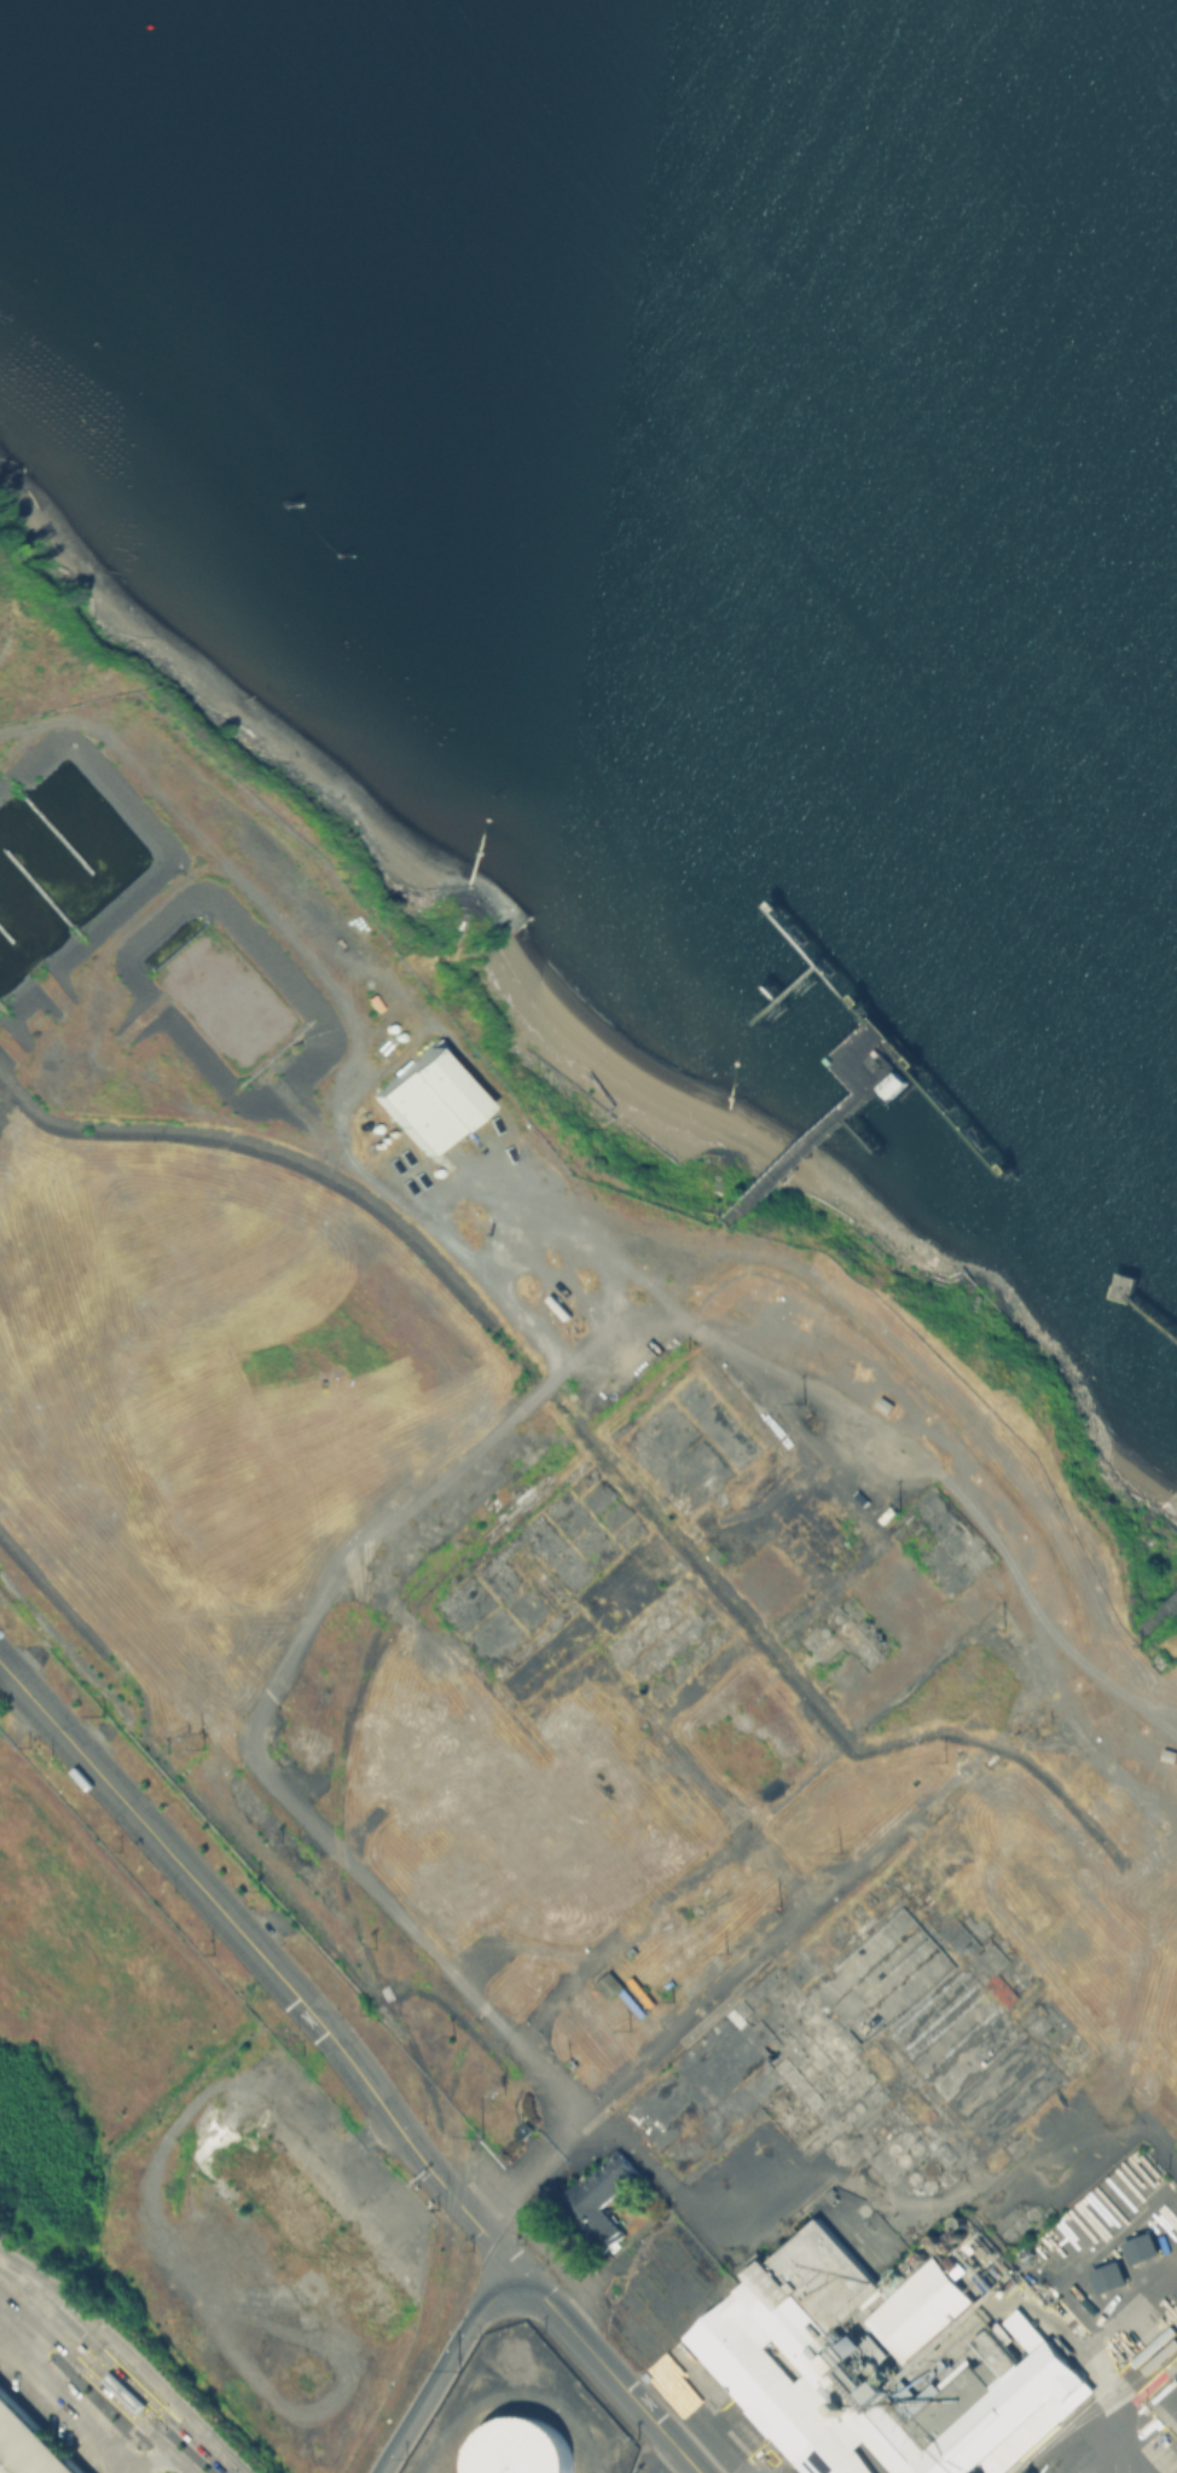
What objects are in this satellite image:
river: (940, 213)
pier: (874, 1059)
building: (424, 1097)
pier: (1137, 1298)
road: (485, 1431)
railway: (366, 1568)
railway: (350, 1569)
pier: (1155, 1614)
railway: (364, 1661)
railway: (342, 1736)
road: (608, 1944)
road: (261, 1953)
road: (720, 1980)
building: (607, 1983)
railway: (413, 2049)
road: (373, 2126)
railway: (546, 2164)
road: (509, 2177)
building: (599, 2197)
road: (686, 2210)
railway: (450, 2219)
building: (1140, 2247)
building: (966, 2275)
building: (1108, 2275)
road: (8, 2283)
road: (22, 2293)
road: (567, 2323)
building: (80, 2346)
road: (129, 2353)
building: (865, 2356)
road: (440, 2364)
traffic signals: (82, 2368)
road: (134, 2385)
road: (50, 2386)
building: (122, 2390)
road: (108, 2392)
railway: (1094, 2397)
railway: (1108, 2397)
road: (1072, 2398)
traffic signals: (161, 2409)
parking lot: (54, 2411)
road: (663, 2431)
road: (152, 2436)
road: (195, 2440)
building: (28, 2443)
road: (127, 2446)
building: (517, 2446)
storage tank: (517, 2446)
road: (150, 2460)
road: (181, 2463)

